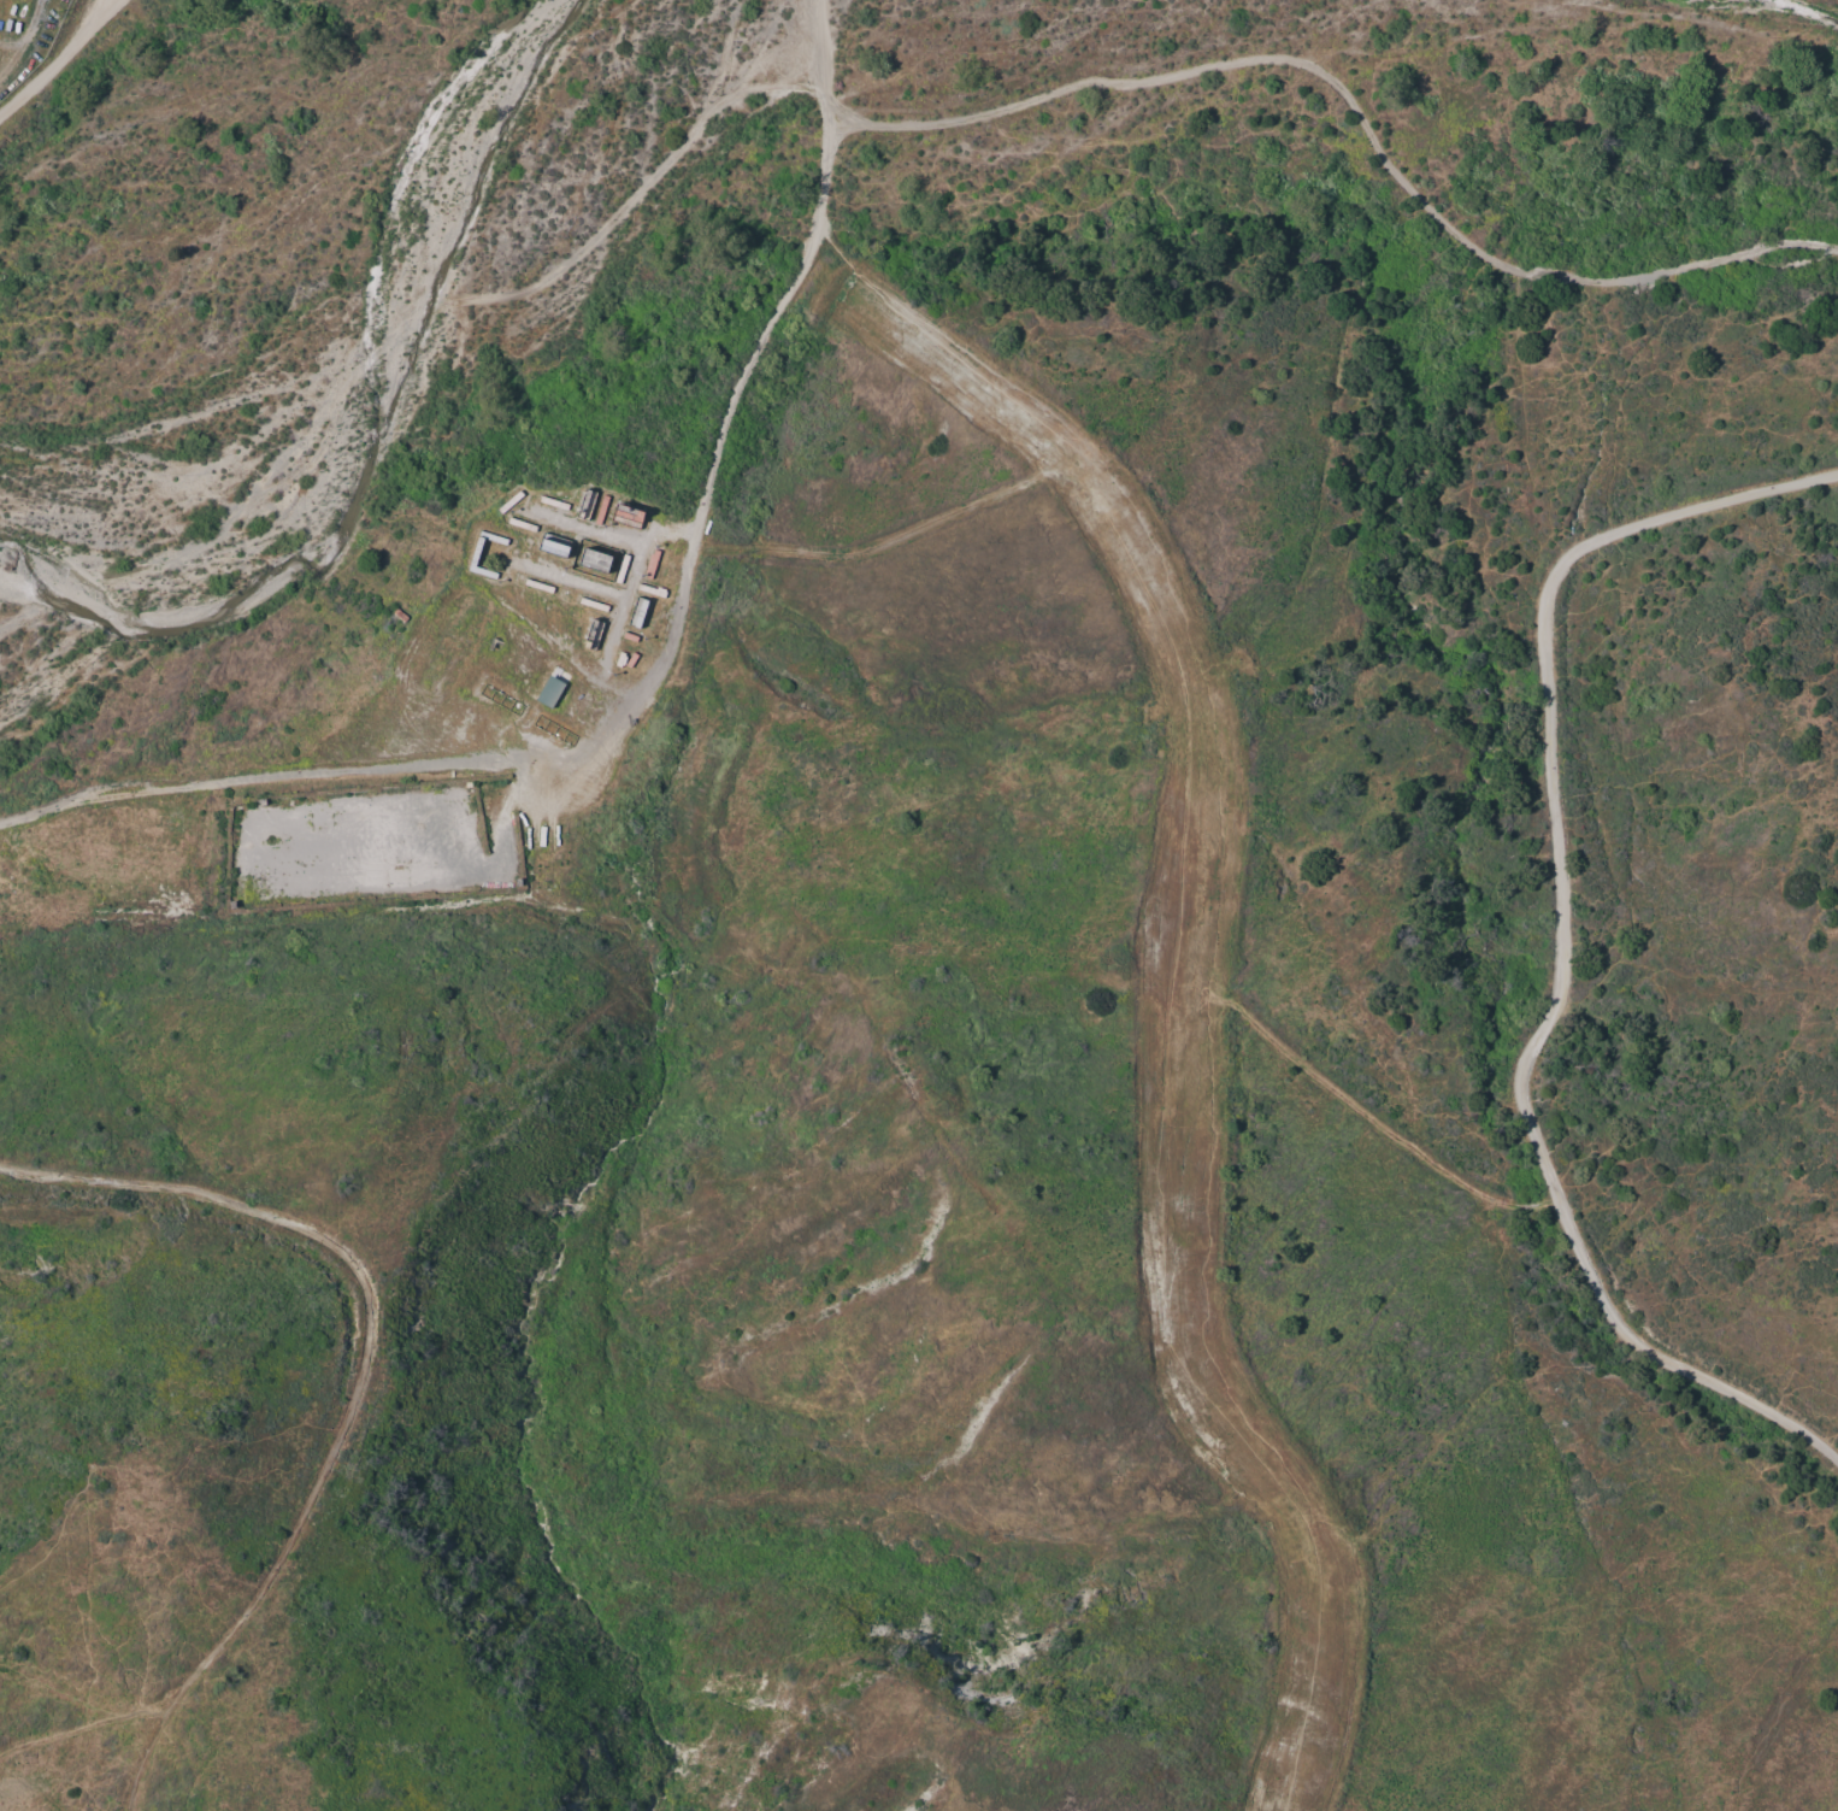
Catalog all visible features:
road: (23, 43)
road: (55, 59)
road: (1357, 113)
road: (793, 281)
road: (640, 669)
building: (546, 693)
road: (291, 759)
road: (1563, 945)

